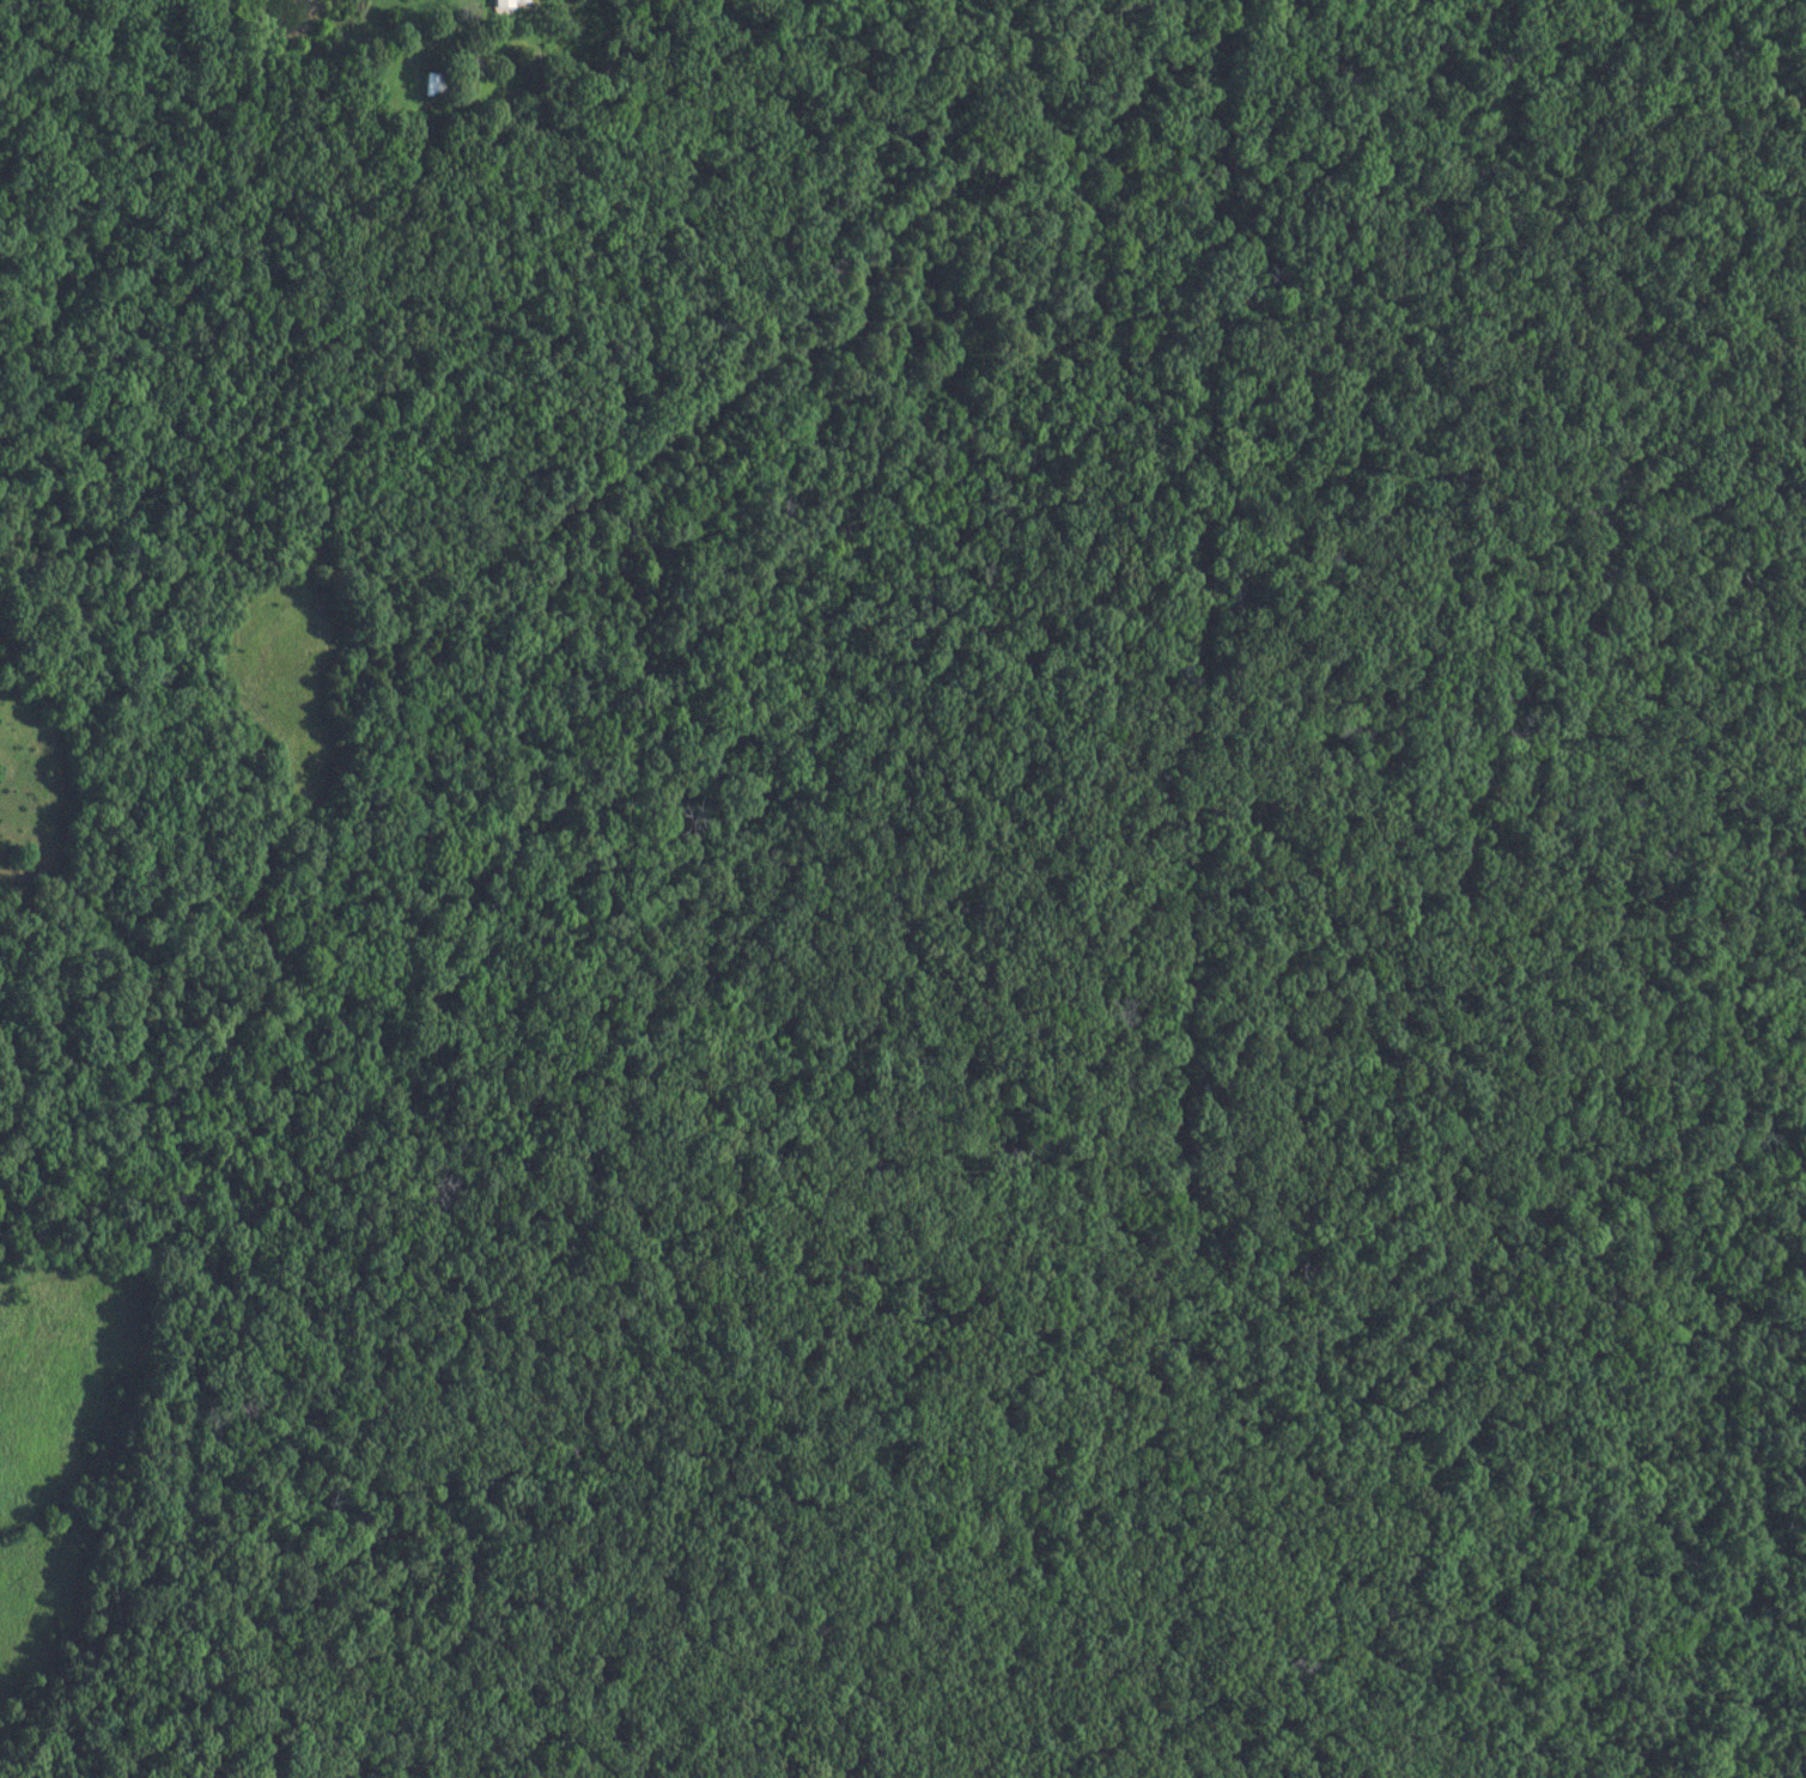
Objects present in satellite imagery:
building: (513, 2)
building: (437, 84)

